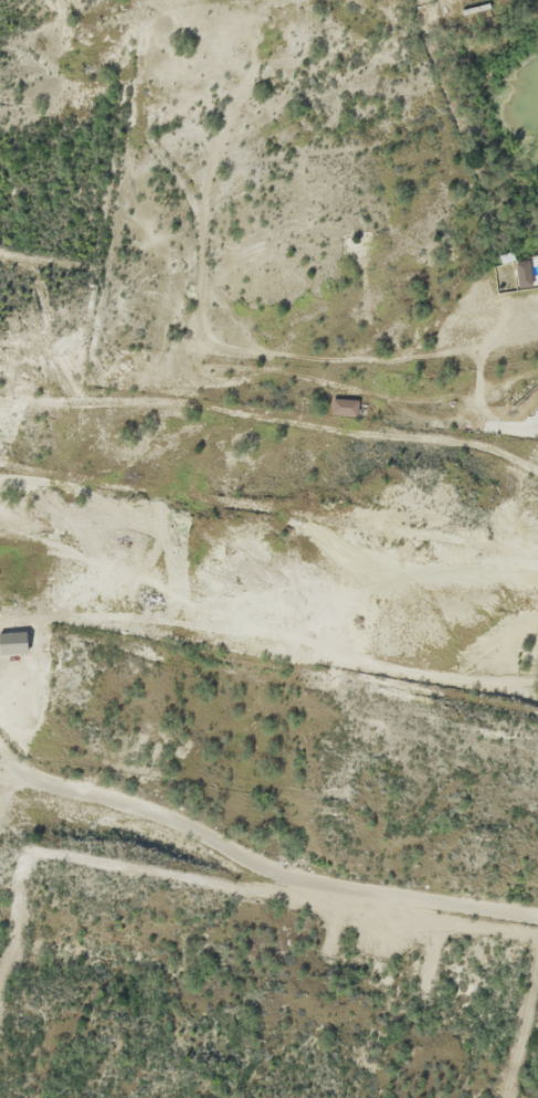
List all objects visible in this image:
building: (537, 665)
road: (259, 868)

